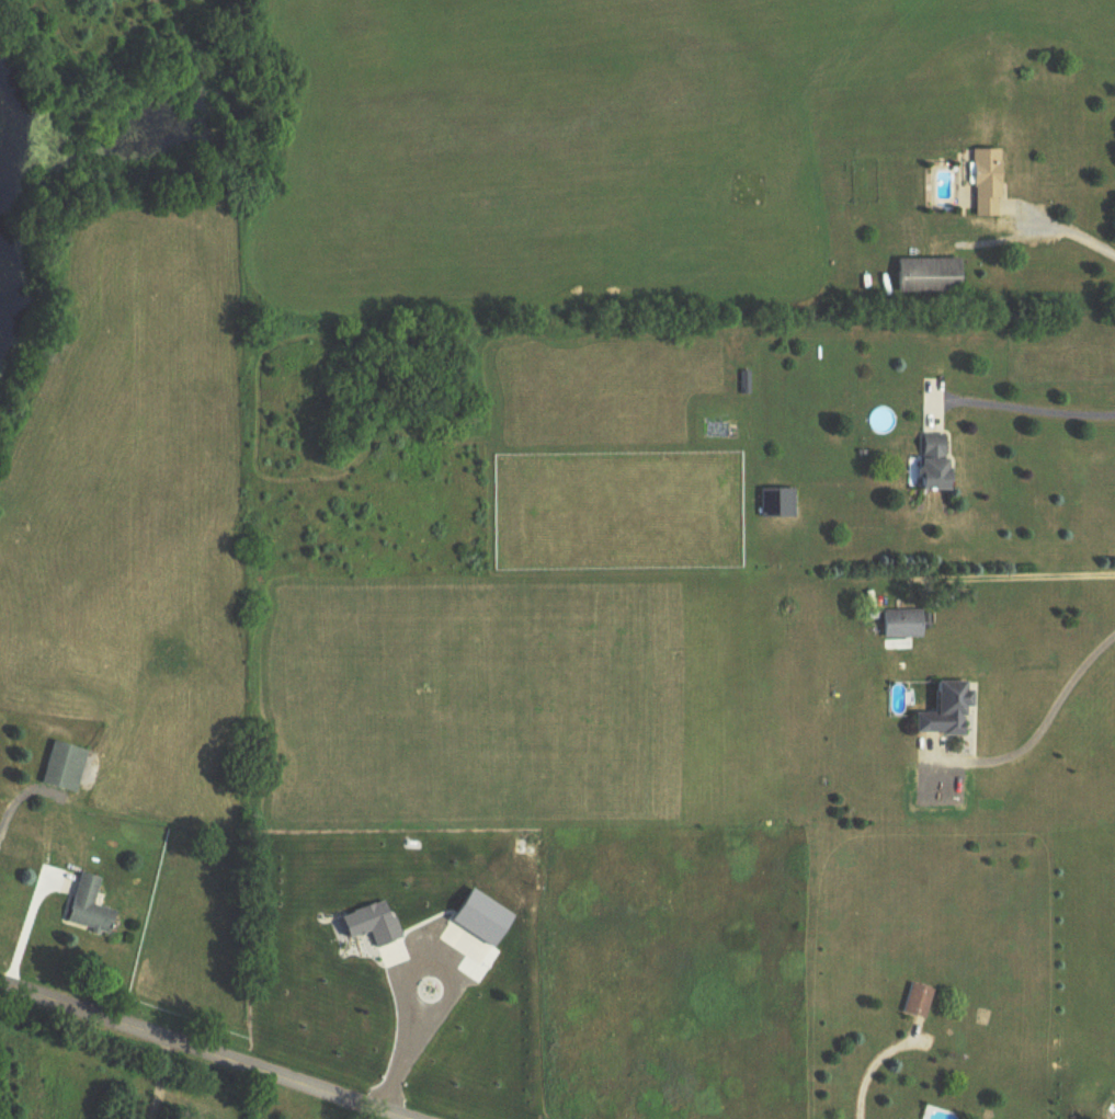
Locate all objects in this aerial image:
building: (990, 183)
road: (1070, 227)
building: (933, 276)
road: (1025, 406)
building: (938, 465)
building: (780, 504)
road: (1017, 573)
building: (904, 625)
building: (952, 710)
road: (1044, 727)
building: (65, 767)
building: (92, 906)
road: (447, 997)
building: (920, 1002)
road: (201, 1051)
road: (155, 1078)

